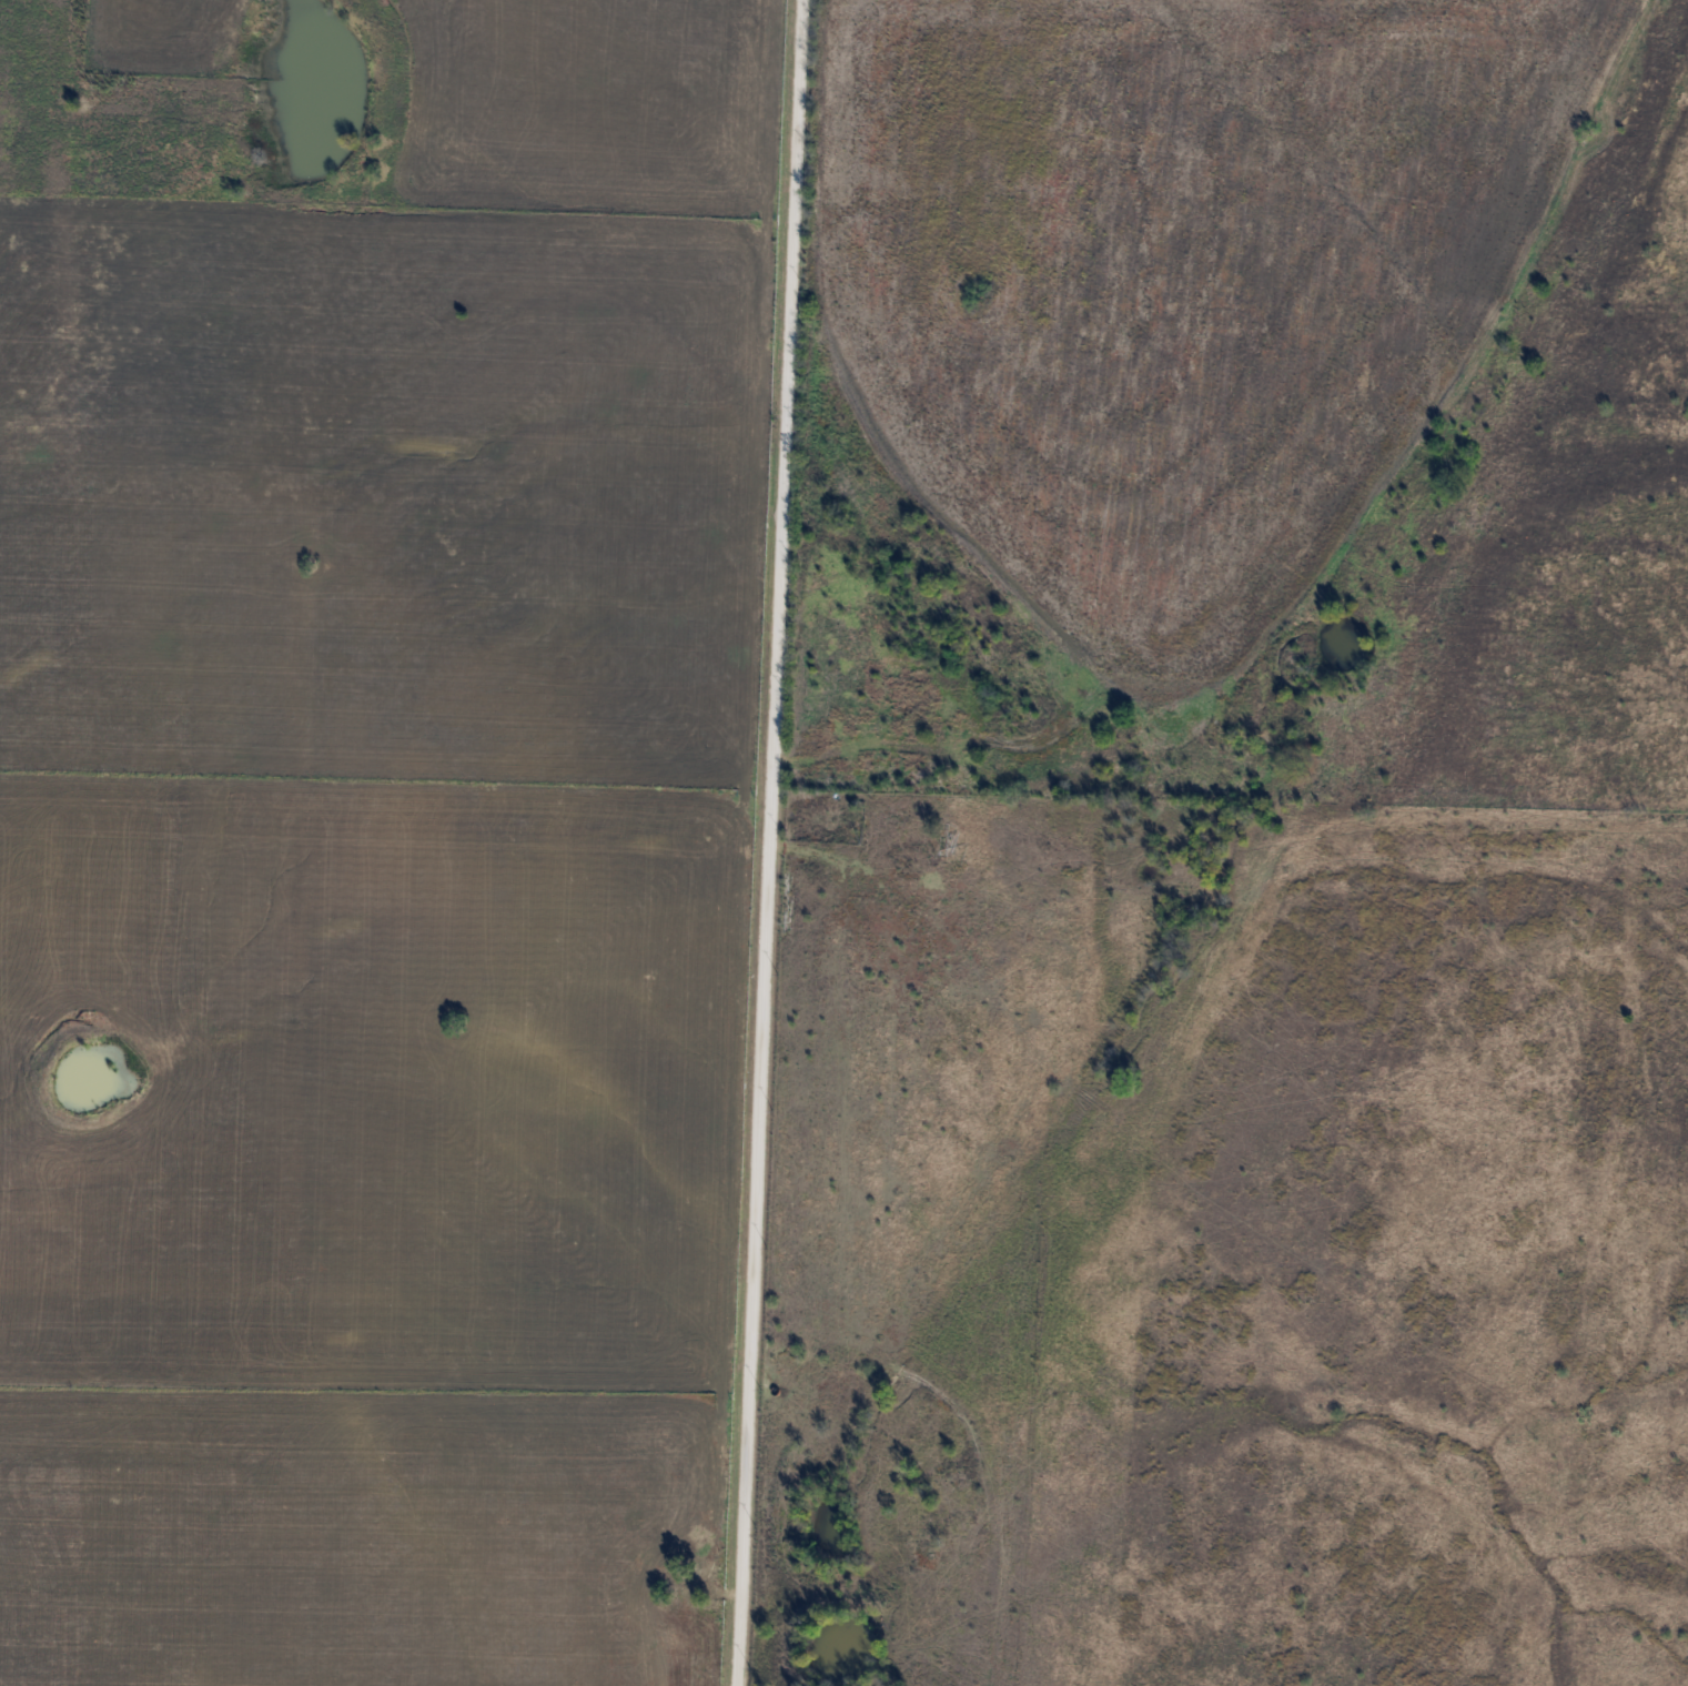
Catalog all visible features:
road: (765, 842)

